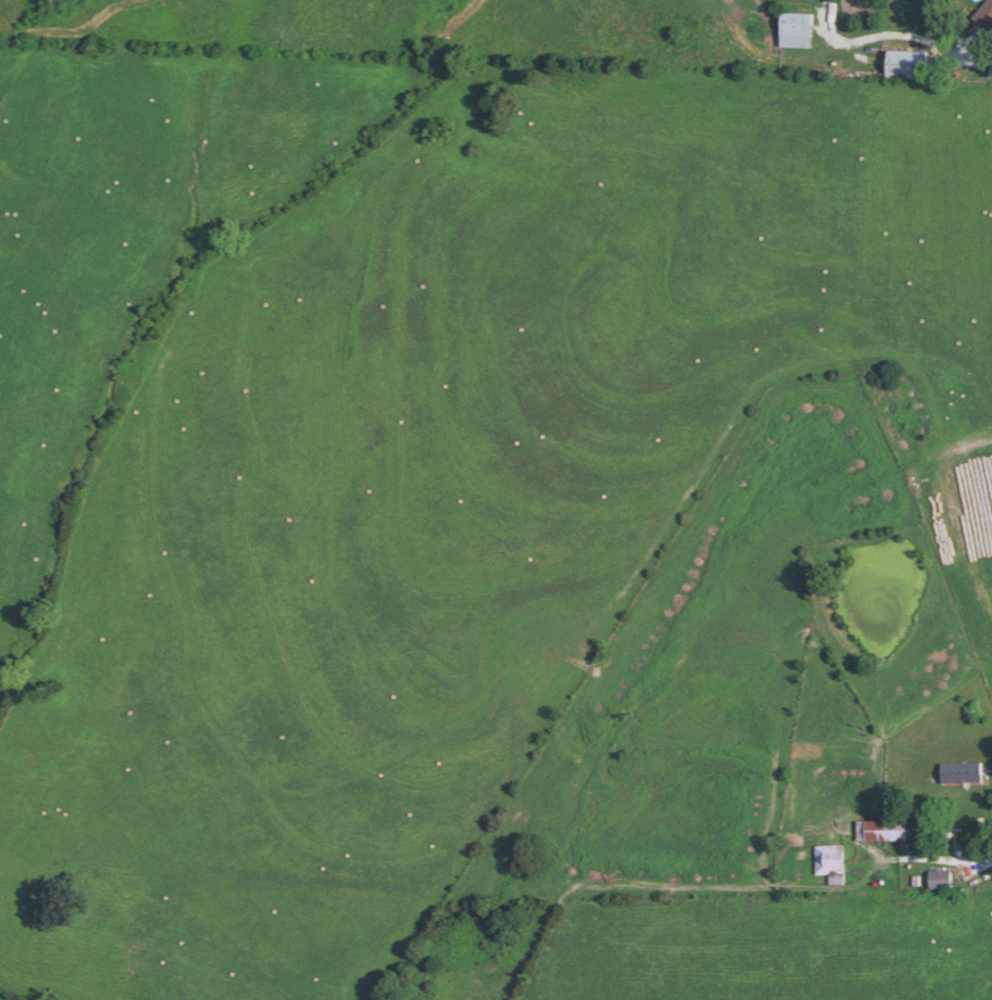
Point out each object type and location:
building: (985, 16)
building: (796, 30)
road: (912, 33)
building: (907, 65)
building: (960, 774)
building: (970, 816)
building: (881, 831)
building: (829, 860)
road: (984, 864)
building: (940, 879)

